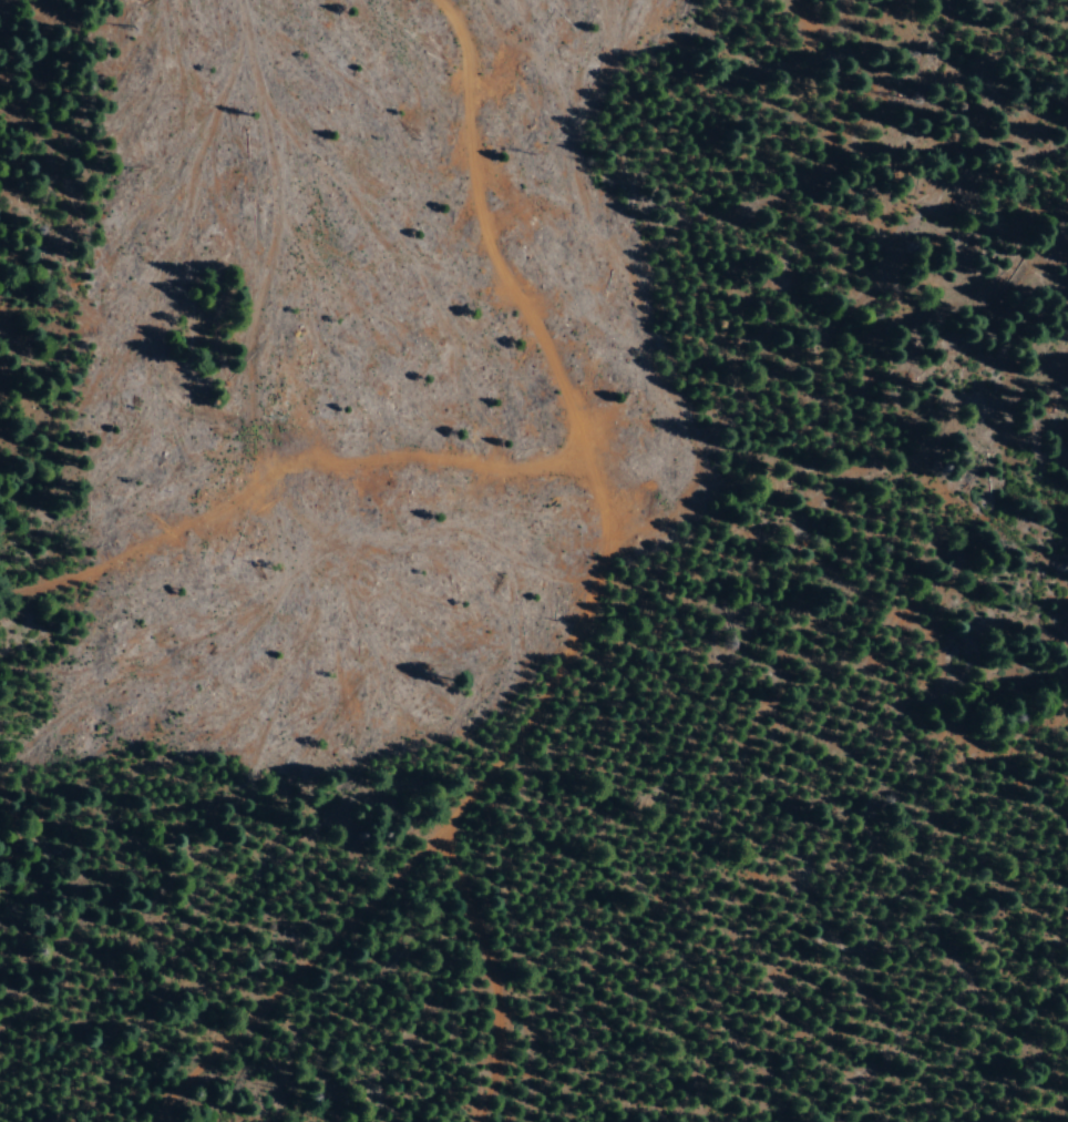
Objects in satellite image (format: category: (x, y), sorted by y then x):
road: (1066, 1)
road: (504, 224)
road: (605, 568)

